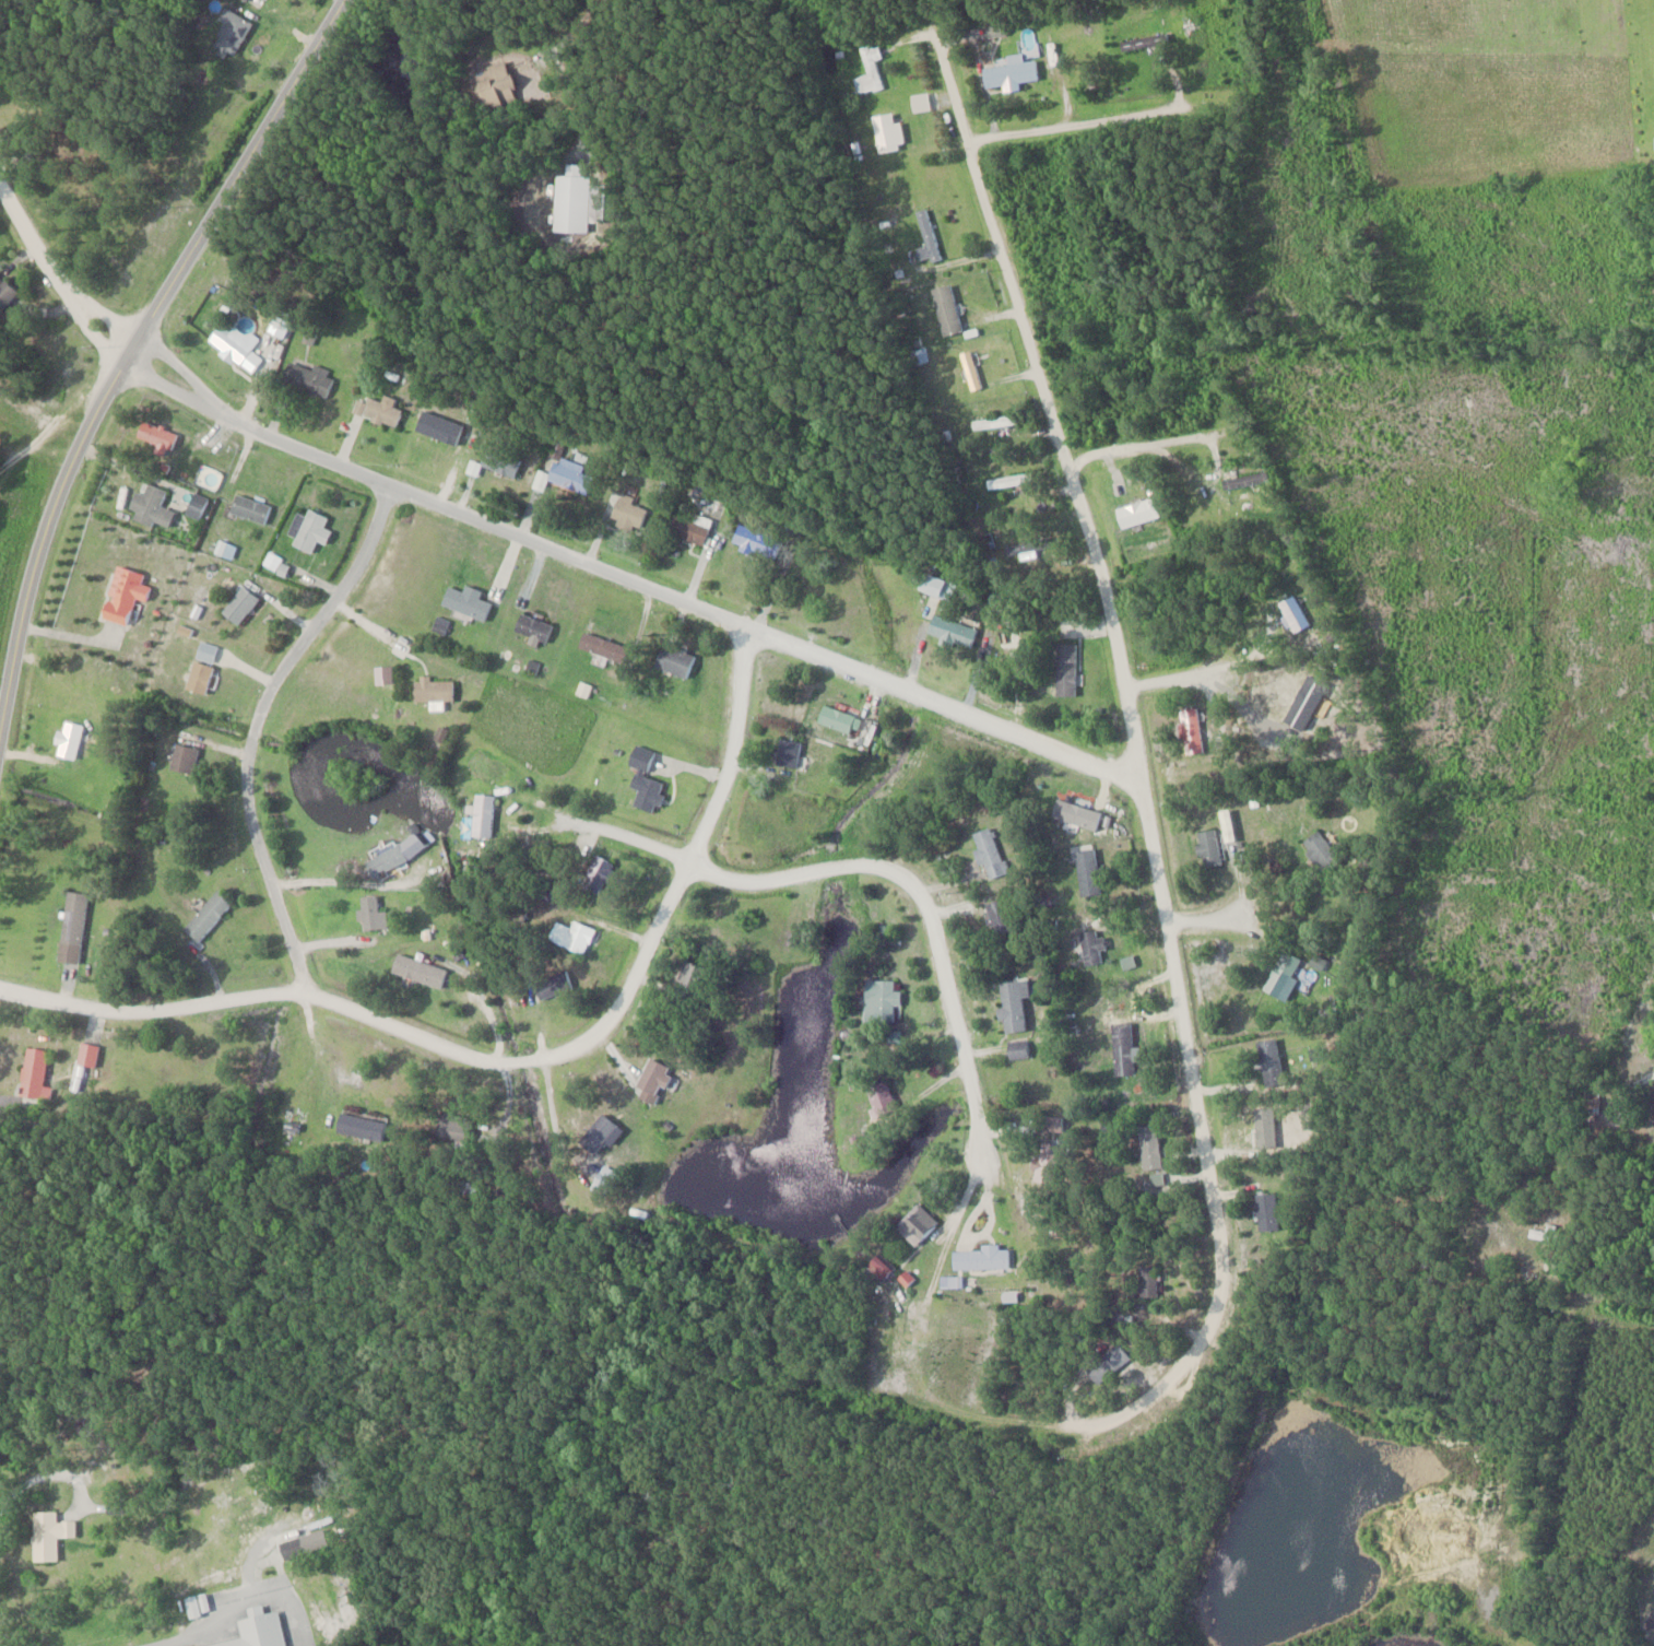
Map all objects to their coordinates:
building: (239, 1)
building: (228, 33)
building: (1144, 40)
building: (869, 70)
building: (1009, 72)
building: (492, 85)
road: (1107, 117)
road: (450, 189)
building: (570, 200)
building: (926, 235)
road: (529, 250)
road: (55, 280)
building: (4, 293)
building: (952, 307)
building: (225, 343)
road: (132, 348)
building: (970, 369)
building: (307, 377)
building: (375, 410)
building: (994, 422)
building: (436, 427)
building: (155, 435)
road: (47, 439)
road: (1159, 443)
building: (499, 461)
building: (565, 475)
building: (1245, 479)
building: (1008, 480)
building: (151, 505)
building: (194, 506)
building: (248, 509)
building: (626, 512)
building: (1136, 512)
building: (687, 529)
building: (307, 531)
building: (753, 540)
road: (628, 579)
building: (935, 586)
building: (122, 592)
building: (465, 601)
building: (237, 604)
building: (1291, 612)
building: (532, 627)
building: (952, 631)
building: (602, 647)
building: (673, 660)
building: (1065, 669)
building: (198, 675)
road: (1174, 680)
building: (432, 691)
building: (838, 720)
building: (1191, 728)
road: (255, 730)
building: (68, 738)
building: (787, 753)
building: (182, 756)
road: (1136, 761)
building: (643, 778)
building: (482, 813)
building: (1075, 813)
road: (615, 840)
building: (1207, 847)
building: (987, 850)
building: (1319, 850)
building: (387, 858)
building: (1086, 870)
building: (595, 872)
road: (343, 881)
road: (929, 908)
building: (370, 912)
building: (205, 915)
building: (997, 916)
building: (73, 917)
road: (1208, 920)
building: (576, 936)
building: (1089, 945)
building: (416, 969)
building: (1281, 973)
building: (551, 983)
building: (881, 999)
building: (1012, 1002)
building: (1122, 1047)
building: (1017, 1048)
building: (86, 1054)
building: (1268, 1060)
road: (515, 1065)
building: (33, 1073)
building: (650, 1078)
road: (1651, 1090)
building: (881, 1096)
building: (1653, 1101)
building: (359, 1124)
building: (1051, 1124)
building: (450, 1125)
building: (1149, 1144)
building: (1045, 1160)
building: (1265, 1211)
building: (917, 1223)
building: (1482, 1224)
building: (1544, 1232)
building: (980, 1256)
road: (1472, 1260)
building: (1145, 1274)
building: (1106, 1363)
building: (48, 1533)
building: (291, 1548)
road: (236, 1606)
building: (258, 1630)

